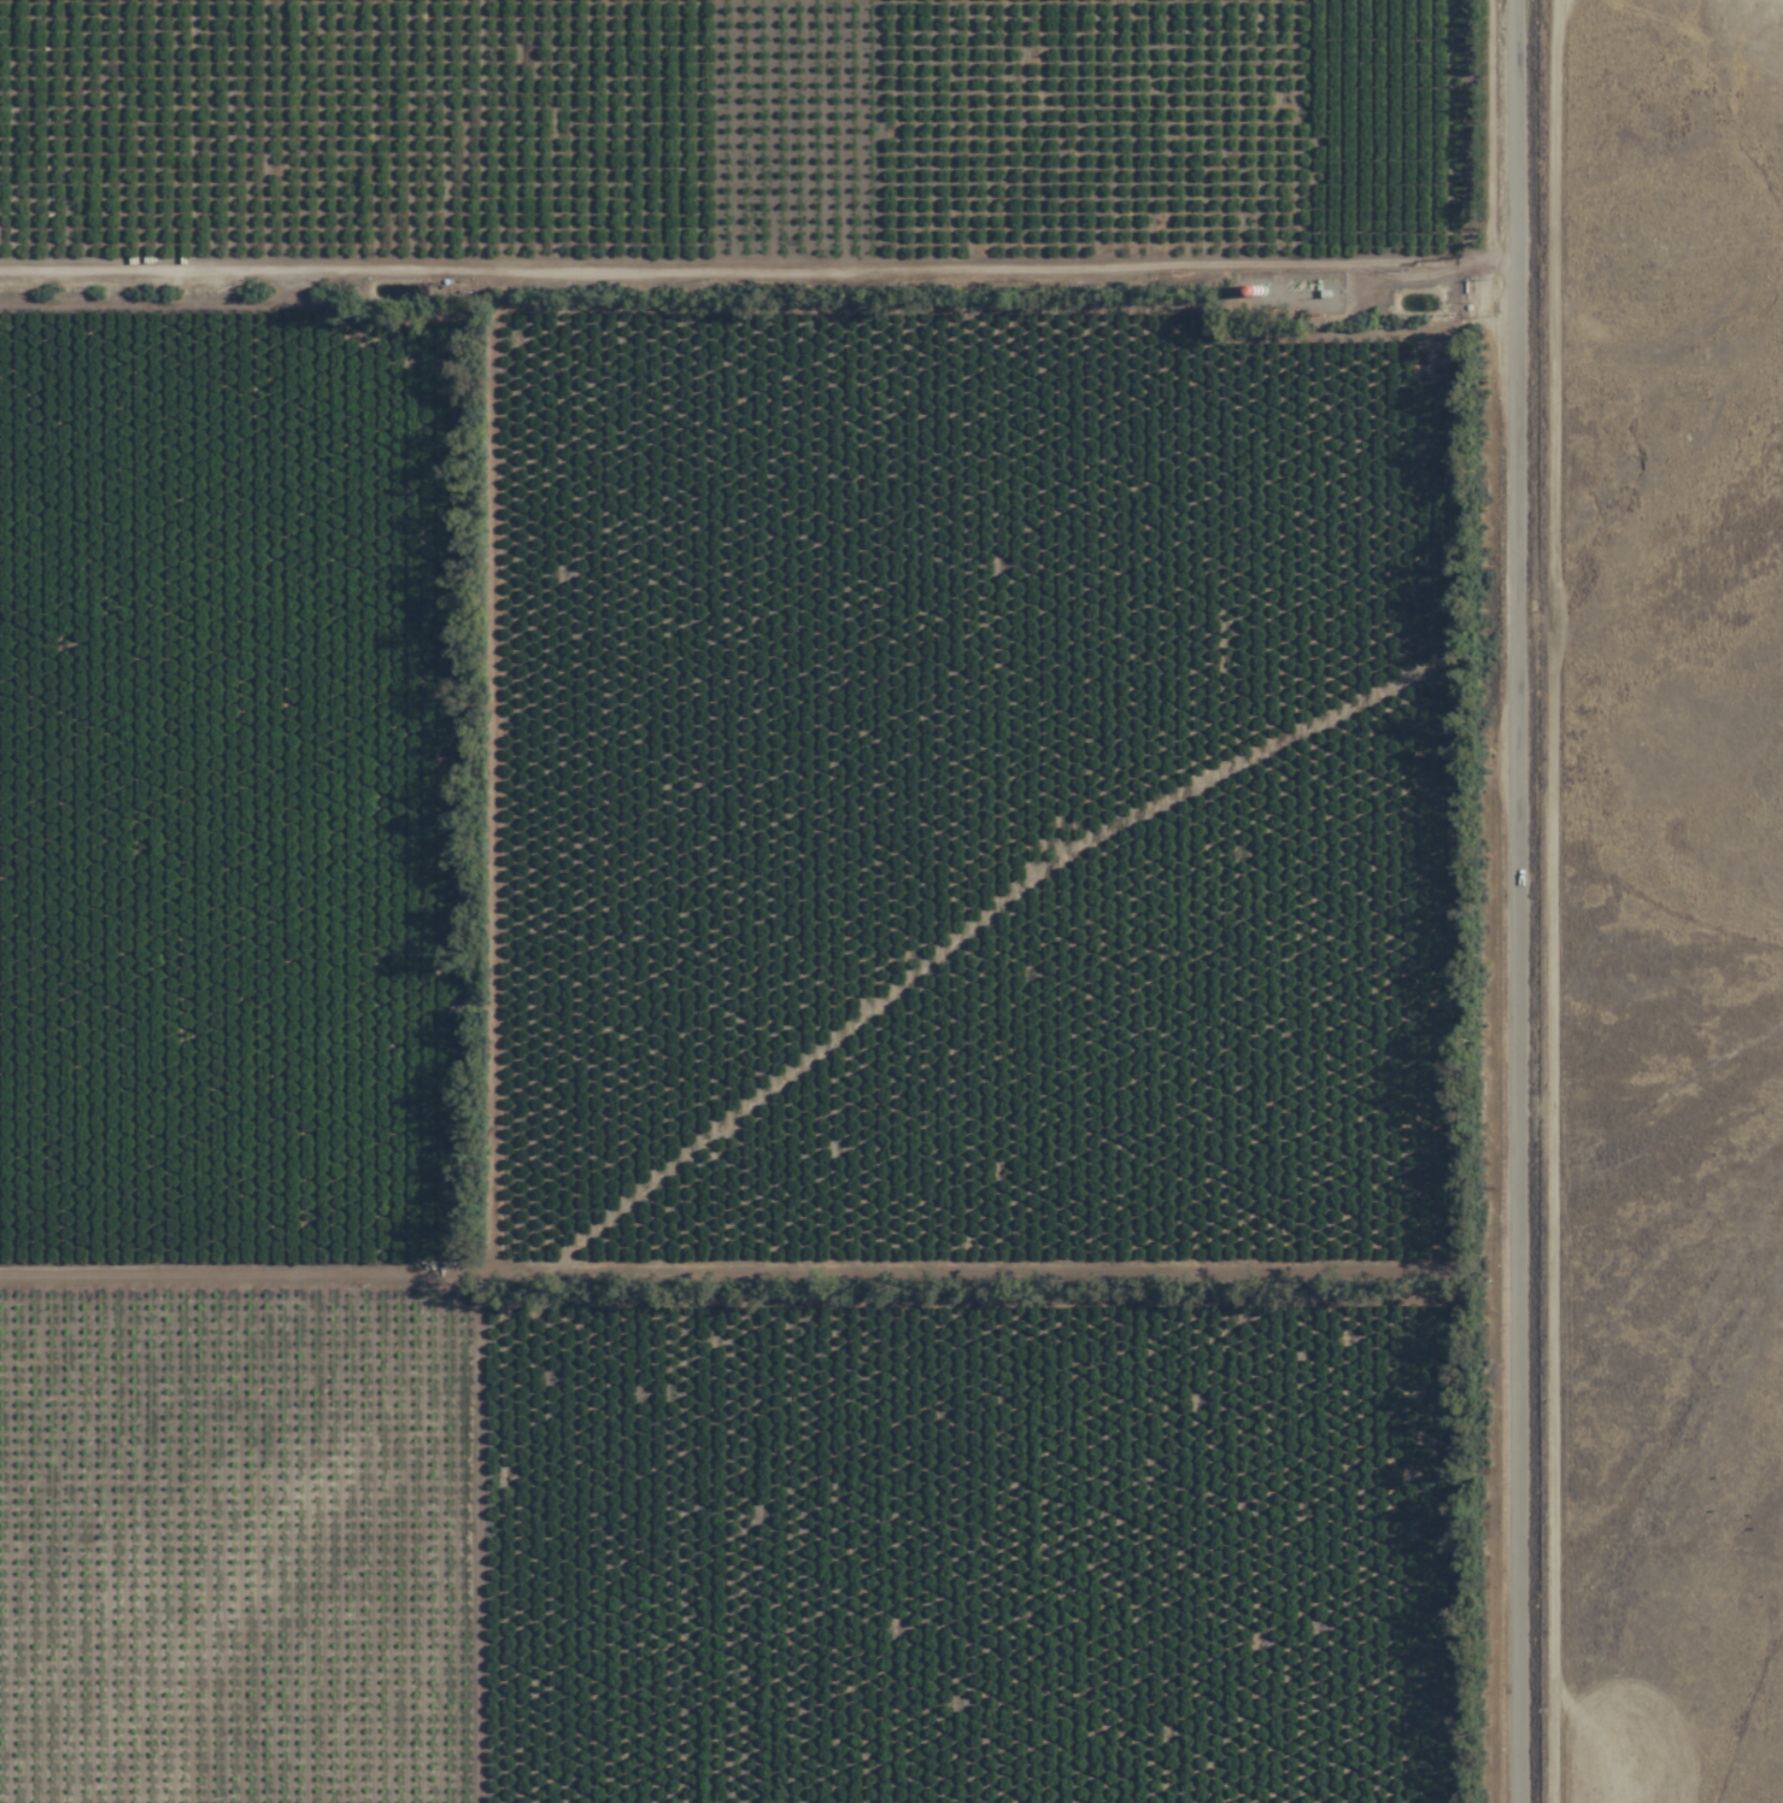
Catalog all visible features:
road: (758, 269)
crop: (752, 900)
road: (1520, 901)
building: (968, 972)
building: (792, 994)
building: (913, 1557)
road: (1748, 1731)
building: (679, 1772)
building: (1225, 1801)
building: (979, 1802)

